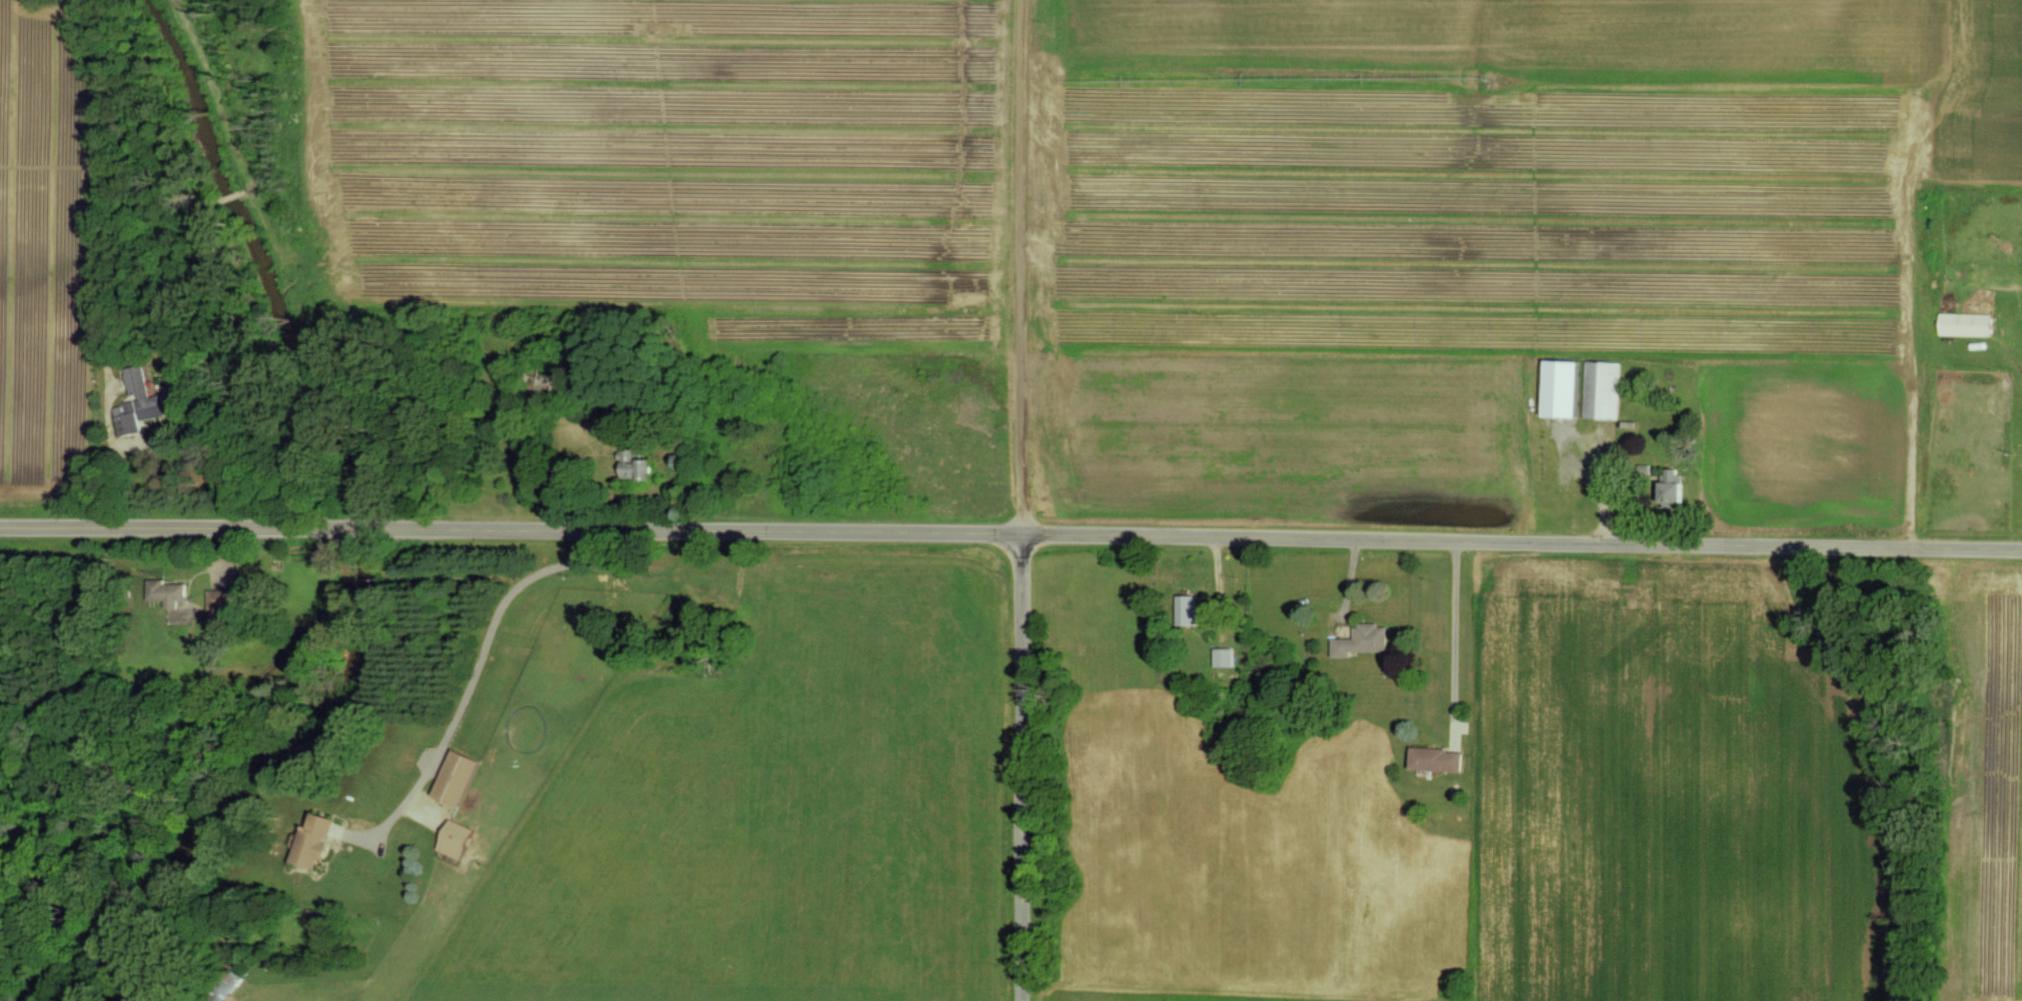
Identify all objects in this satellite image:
building: (1964, 324)
building: (1560, 389)
building: (1600, 389)
building: (135, 402)
road: (216, 456)
building: (632, 465)
building: (1671, 487)
road: (1022, 500)
road: (1011, 533)
building: (164, 592)
building: (216, 601)
building: (1181, 609)
road: (1452, 634)
building: (1359, 640)
building: (1219, 657)
road: (467, 679)
building: (1436, 759)
building: (453, 778)
building: (453, 839)
building: (309, 842)

